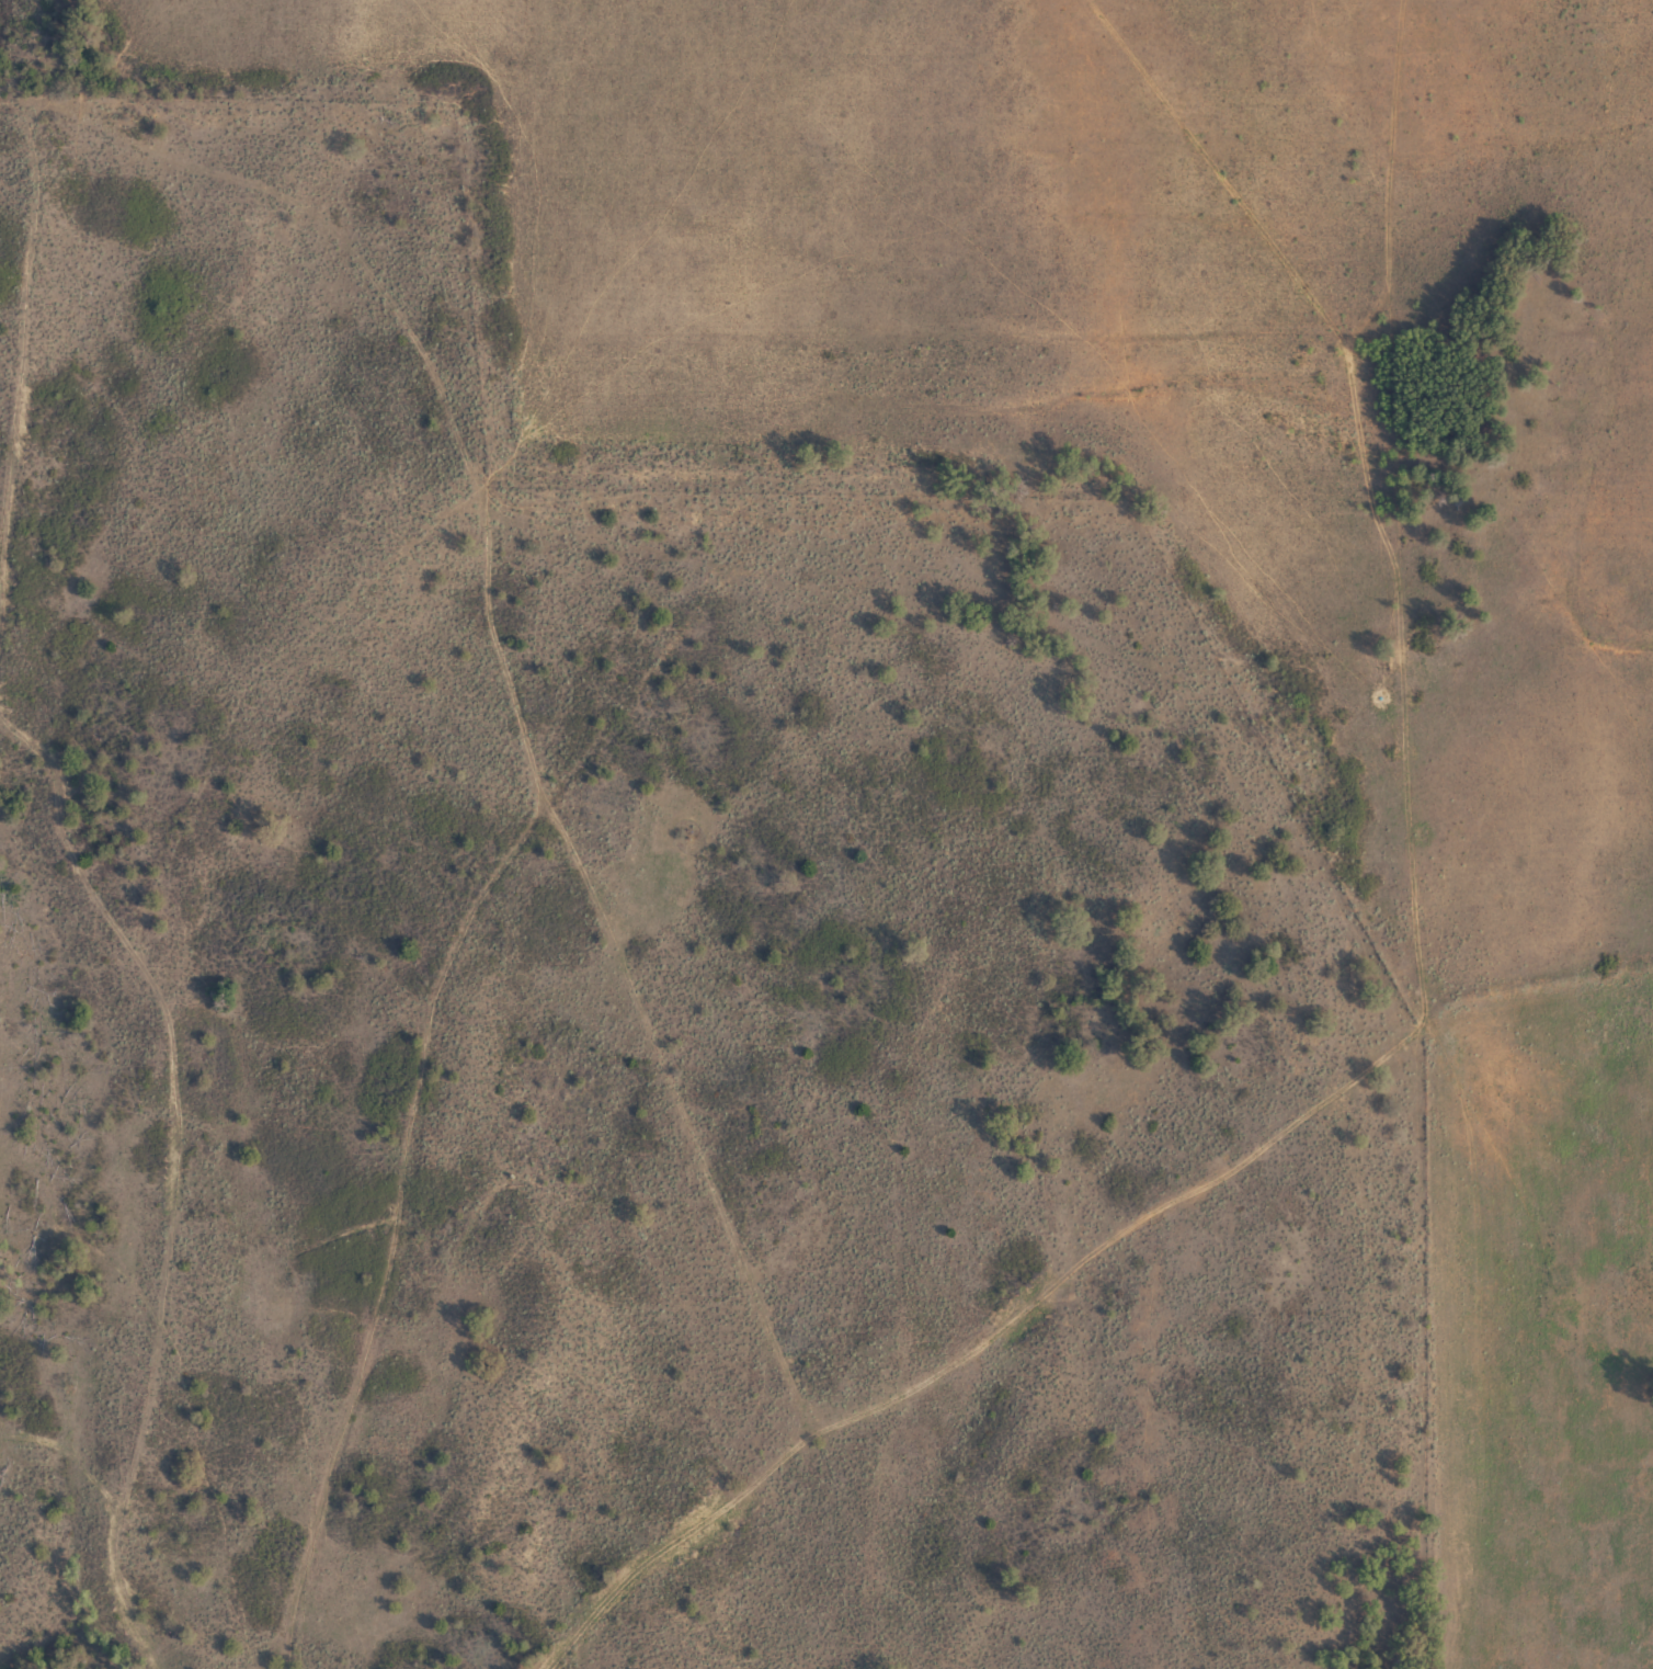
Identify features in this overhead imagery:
road: (1082, 1282)
crop: (692, 1637)

